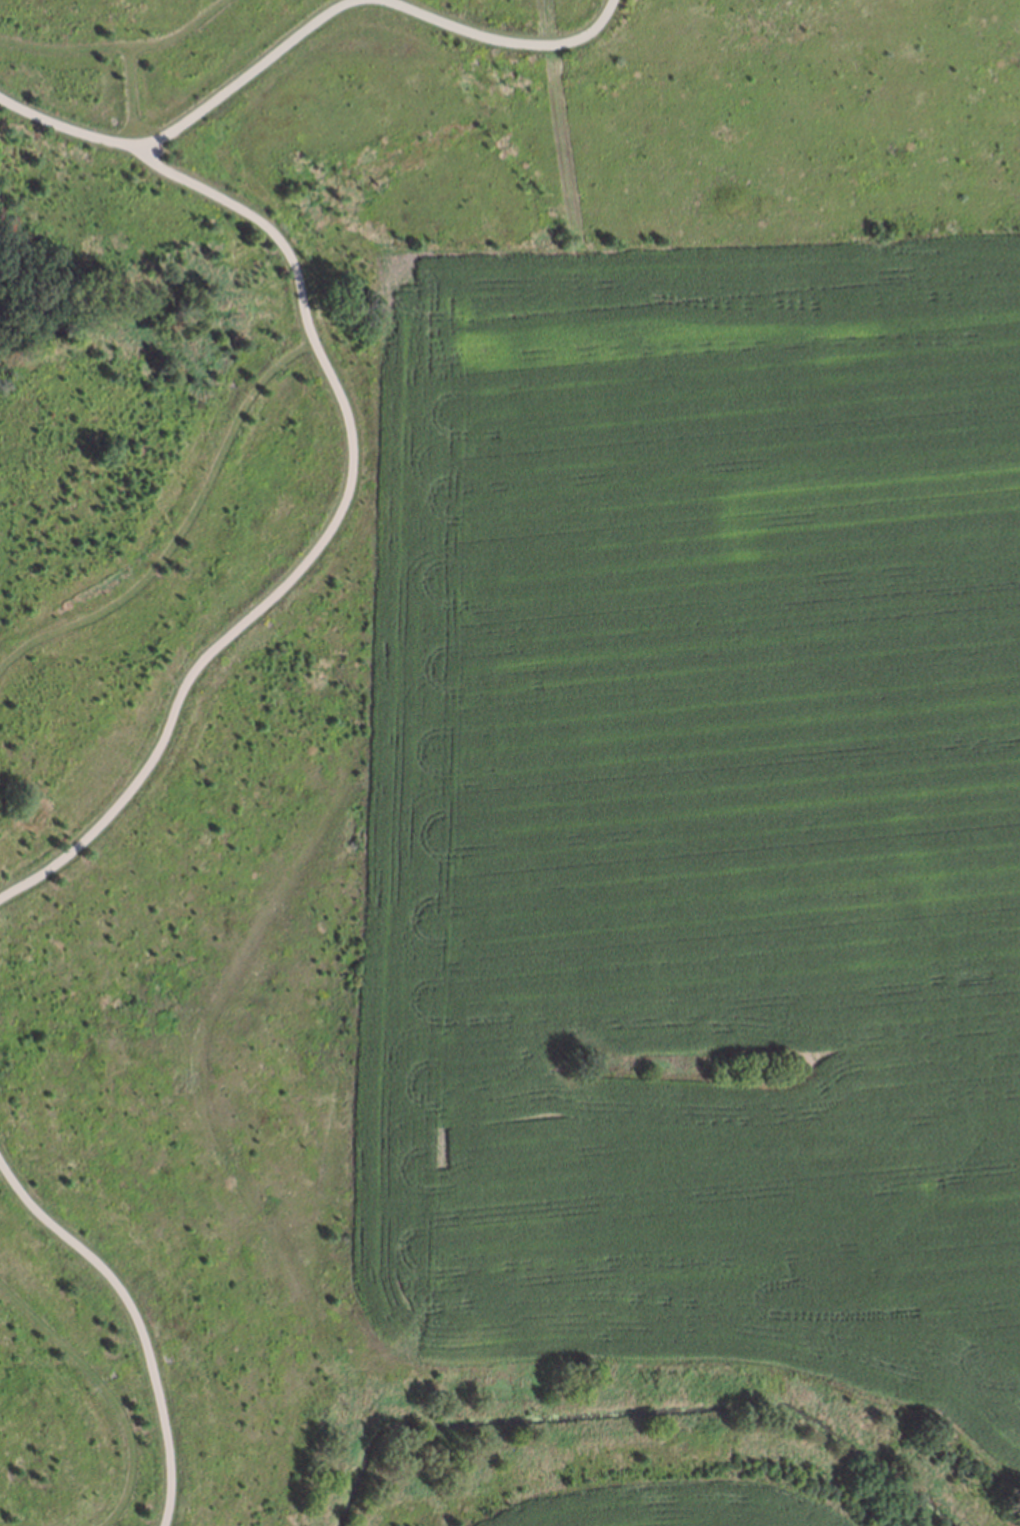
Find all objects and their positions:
road: (505, 40)
road: (245, 75)
road: (69, 127)
road: (322, 540)
road: (134, 1317)

